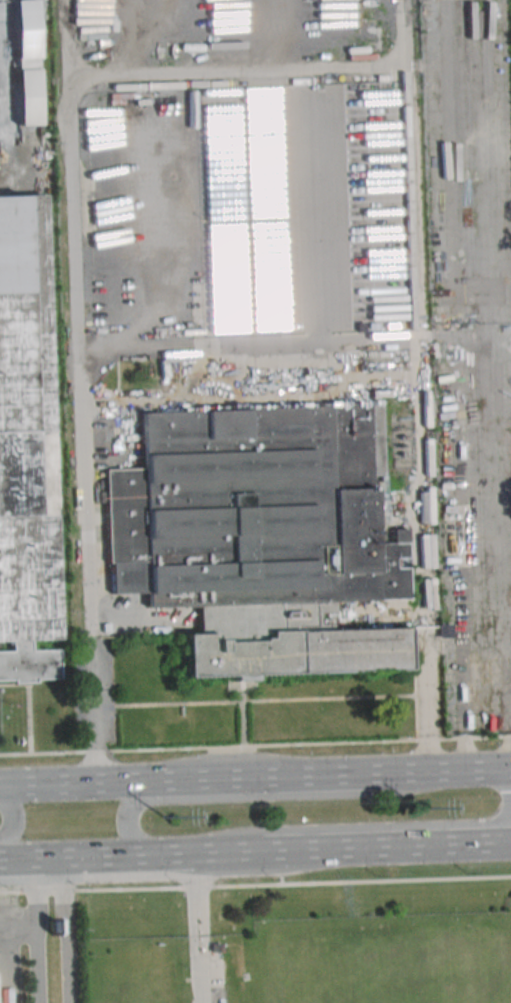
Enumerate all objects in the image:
building: (25, 62)
road: (233, 71)
road: (319, 186)
road: (160, 252)
road: (286, 344)
road: (99, 349)
road: (452, 385)
road: (78, 391)
building: (25, 441)
building: (248, 510)
building: (285, 644)
road: (255, 746)
traffic signals: (498, 769)
road: (439, 770)
road: (261, 777)
road: (504, 781)
road: (76, 783)
road: (248, 797)
power tower: (420, 811)
road: (11, 814)
power tower: (165, 820)
road: (353, 827)
road: (503, 842)
road: (381, 846)
road: (231, 852)
road: (97, 856)
road: (255, 885)
road: (17, 917)
road: (197, 927)
road: (65, 929)
road: (34, 930)

